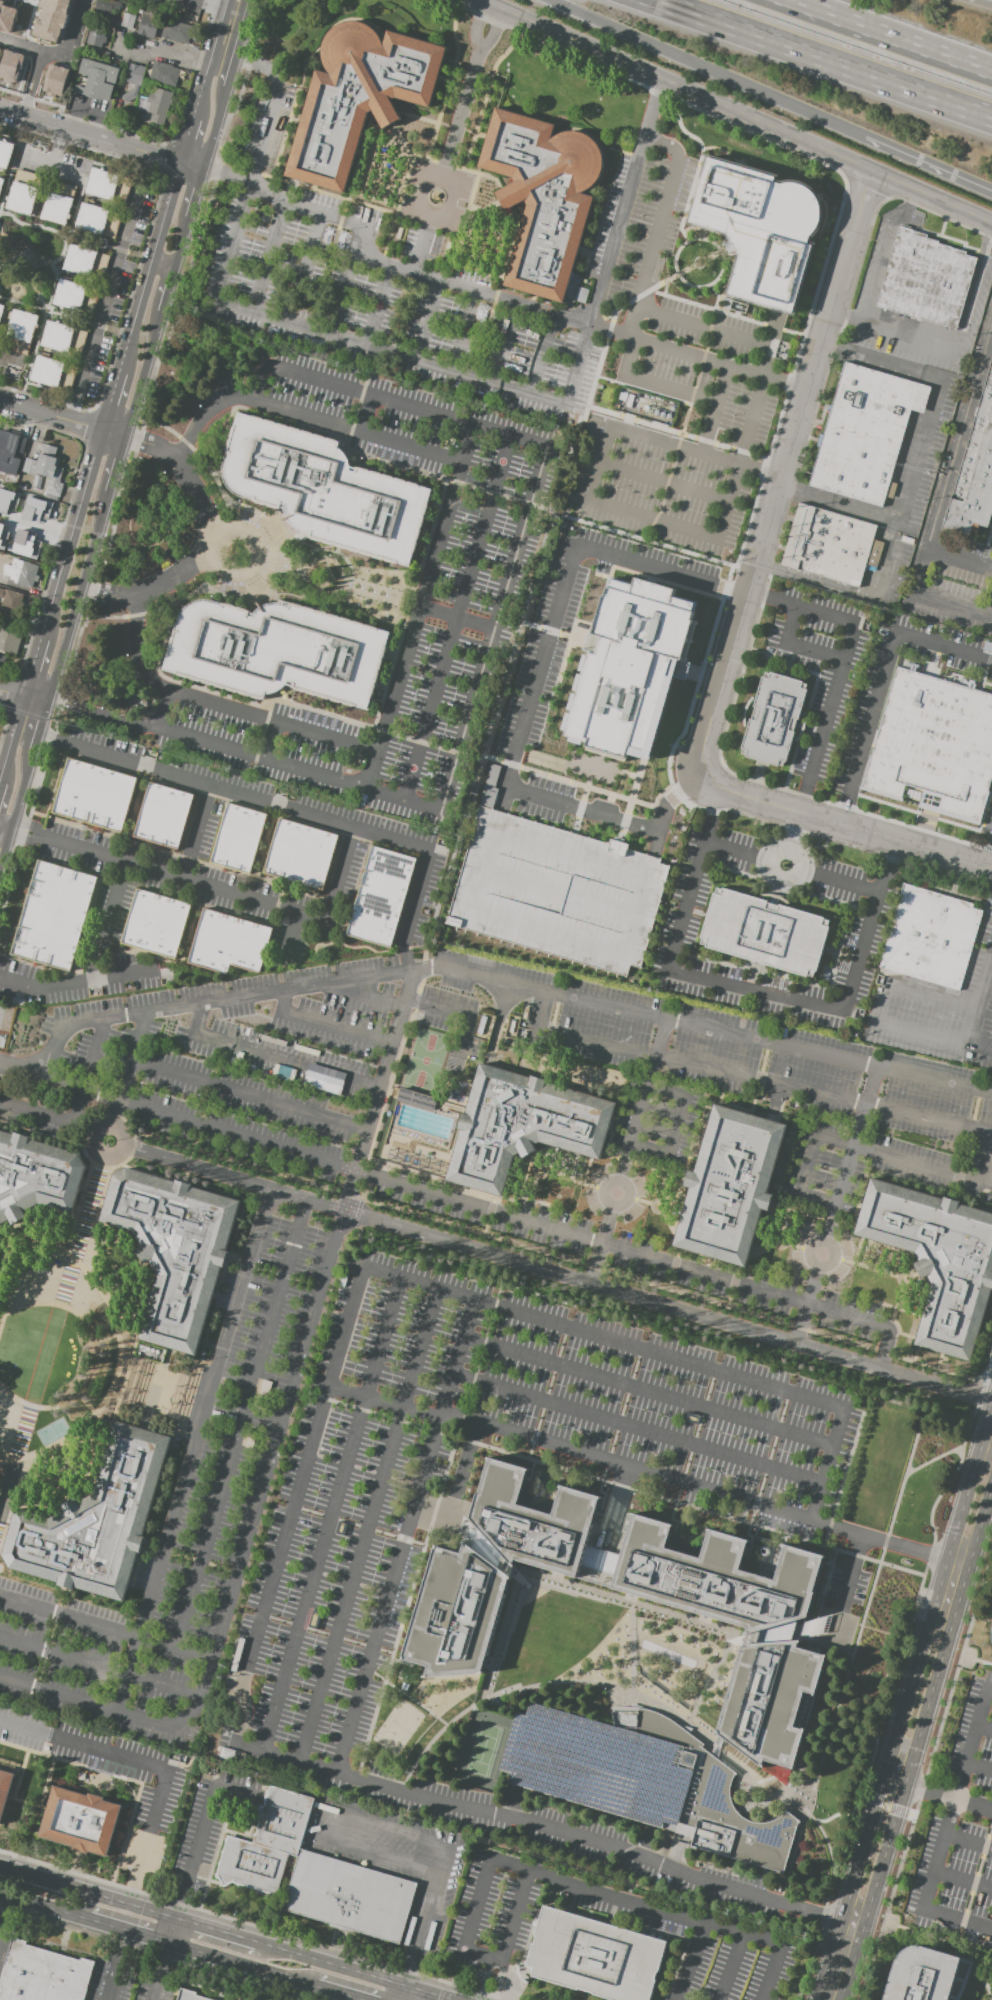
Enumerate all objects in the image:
road: (986, 1)
building: (106, 7)
road: (201, 7)
building: (8, 17)
building: (127, 18)
building: (52, 19)
building: (143, 25)
road: (473, 25)
road: (216, 30)
road: (243, 30)
road: (491, 32)
building: (178, 33)
road: (888, 36)
building: (98, 39)
road: (56, 50)
road: (161, 50)
road: (822, 59)
road: (221, 60)
road: (698, 66)
road: (231, 73)
building: (165, 75)
building: (54, 79)
building: (97, 81)
building: (132, 81)
road: (30, 83)
road: (200, 87)
road: (660, 89)
building: (360, 98)
building: (157, 107)
road: (271, 107)
road: (732, 112)
road: (652, 116)
road: (215, 128)
road: (89, 135)
road: (186, 138)
road: (726, 154)
building: (6, 155)
road: (50, 162)
road: (445, 162)
road: (920, 163)
road: (191, 165)
road: (66, 172)
road: (225, 175)
road: (695, 175)
road: (8, 183)
building: (1, 186)
road: (697, 187)
building: (109, 188)
building: (25, 194)
road: (195, 194)
fountain: (436, 196)
building: (545, 198)
building: (59, 204)
road: (838, 217)
building: (99, 222)
road: (360, 223)
building: (760, 228)
road: (821, 231)
road: (61, 236)
road: (93, 237)
road: (79, 238)
road: (4, 239)
road: (691, 240)
road: (181, 243)
road: (649, 244)
road: (885, 254)
road: (270, 256)
road: (309, 262)
building: (87, 264)
road: (162, 264)
road: (148, 266)
road: (668, 279)
building: (924, 280)
parking lot: (426, 283)
road: (53, 284)
road: (109, 286)
road: (974, 290)
road: (167, 291)
road: (472, 292)
road: (663, 294)
building: (77, 297)
road: (21, 303)
road: (379, 307)
building: (2, 315)
road: (733, 315)
road: (74, 319)
road: (428, 322)
road: (700, 323)
road: (893, 332)
building: (21, 333)
road: (465, 333)
building: (64, 340)
road: (506, 345)
road: (542, 355)
road: (31, 360)
road: (714, 364)
building: (54, 375)
road: (142, 375)
road: (464, 375)
road: (654, 383)
road: (757, 386)
road: (643, 390)
road: (44, 391)
road: (109, 401)
road: (690, 403)
road: (713, 411)
road: (50, 414)
road: (368, 415)
parking lot: (736, 422)
road: (112, 433)
road: (676, 433)
building: (866, 435)
road: (467, 445)
building: (8, 447)
road: (920, 449)
road: (684, 450)
road: (116, 465)
road: (183, 468)
building: (46, 470)
building: (974, 472)
road: (772, 476)
building: (10, 477)
road: (678, 486)
road: (780, 486)
building: (326, 492)
road: (945, 503)
road: (611, 509)
road: (752, 511)
building: (35, 513)
road: (719, 519)
road: (70, 533)
road: (94, 540)
road: (208, 540)
building: (833, 546)
building: (25, 548)
road: (259, 556)
road: (962, 560)
building: (22, 576)
parking lot: (476, 585)
road: (149, 588)
road: (859, 593)
building: (10, 602)
road: (419, 610)
road: (456, 619)
road: (457, 619)
road: (520, 624)
building: (10, 642)
road: (63, 644)
road: (797, 646)
building: (278, 653)
building: (3, 660)
road: (842, 665)
road: (31, 666)
road: (483, 668)
building: (632, 668)
road: (885, 683)
road: (532, 687)
road: (11, 693)
road: (34, 699)
road: (164, 712)
building: (777, 720)
road: (39, 727)
road: (11, 736)
road: (270, 743)
building: (933, 744)
road: (432, 745)
road: (371, 772)
road: (170, 773)
building: (92, 798)
road: (15, 806)
road: (324, 817)
building: (162, 818)
road: (28, 823)
road: (5, 825)
road: (861, 831)
road: (23, 838)
road: (793, 839)
building: (236, 841)
building: (299, 856)
road: (422, 859)
road: (793, 867)
road: (991, 867)
road: (180, 878)
building: (554, 889)
building: (379, 899)
building: (55, 917)
road: (106, 919)
road: (318, 919)
building: (157, 924)
road: (289, 934)
building: (767, 934)
building: (932, 939)
building: (230, 944)
road: (419, 957)
road: (73, 979)
road: (504, 984)
road: (752, 988)
road: (367, 994)
road: (932, 996)
road: (412, 1001)
road: (401, 1006)
road: (978, 1013)
parking lot: (451, 1019)
road: (327, 1024)
road: (922, 1032)
road: (271, 1056)
park: (425, 1059)
road: (129, 1060)
road: (747, 1078)
road: (58, 1081)
building: (322, 1082)
road: (247, 1097)
building: (415, 1099)
road: (79, 1108)
road: (113, 1116)
road: (676, 1126)
building: (524, 1127)
road: (118, 1135)
road: (96, 1146)
road: (870, 1151)
road: (628, 1152)
road: (195, 1168)
fountain: (538, 1171)
building: (36, 1176)
building: (732, 1187)
fountain: (658, 1206)
road: (836, 1207)
road: (520, 1219)
fountain: (779, 1242)
building: (175, 1249)
road: (551, 1256)
building: (938, 1260)
fountain: (904, 1278)
road: (410, 1283)
road: (631, 1296)
road: (298, 1370)
road: (649, 1392)
road: (245, 1416)
road: (242, 1425)
road: (637, 1431)
road: (194, 1452)
road: (939, 1456)
road: (649, 1474)
parking lot: (391, 1487)
building: (96, 1521)
road: (369, 1527)
road: (402, 1537)
building: (645, 1558)
road: (831, 1566)
road: (942, 1568)
building: (457, 1614)
road: (862, 1620)
road: (106, 1628)
building: (991, 1637)
building: (990, 1647)
road: (632, 1649)
road: (967, 1659)
road: (101, 1668)
building: (315, 1671)
road: (58, 1696)
road: (408, 1697)
road: (647, 1701)
building: (773, 1702)
road: (927, 1706)
road: (167, 1728)
park: (400, 1728)
road: (984, 1729)
park: (484, 1751)
road: (889, 1756)
road: (156, 1768)
road: (979, 1768)
road: (322, 1769)
building: (597, 1769)
parking lot: (597, 1769)
fountain: (771, 1786)
building: (4, 1787)
road: (937, 1795)
building: (714, 1801)
building: (81, 1822)
road: (331, 1828)
road: (947, 1831)
parking lot: (960, 1834)
road: (198, 1837)
road: (969, 1841)
building: (268, 1844)
road: (861, 1852)
road: (444, 1862)
road: (963, 1883)
road: (974, 1883)
road: (64, 1888)
road: (602, 1894)
building: (351, 1898)
road: (62, 1911)
road: (4, 1914)
road: (421, 1935)
road: (509, 1936)
road: (926, 1936)
road: (119, 1940)
road: (165, 1952)
building: (595, 1957)
road: (268, 1958)
road: (691, 1963)
road: (841, 1963)
road: (734, 1968)
building: (42, 1974)
building: (922, 1974)
road: (107, 1981)
road: (155, 1987)
building: (191, 1996)

